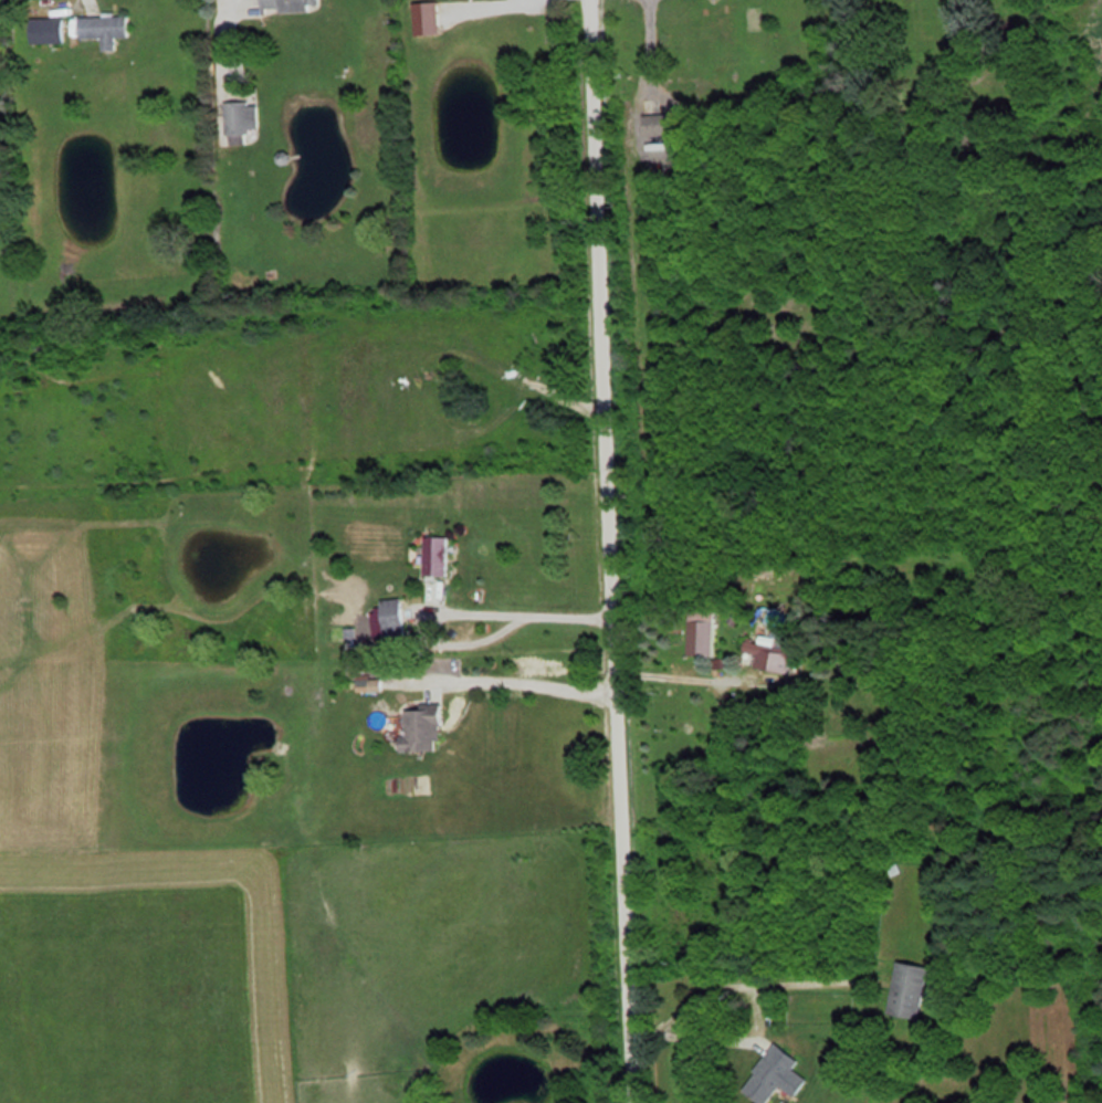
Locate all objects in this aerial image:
building: (288, 4)
building: (431, 18)
road: (222, 21)
building: (106, 28)
building: (51, 29)
building: (245, 117)
road: (604, 551)
building: (440, 555)
road: (521, 606)
building: (396, 617)
building: (704, 634)
building: (767, 654)
building: (427, 728)
building: (910, 989)
building: (779, 1074)

